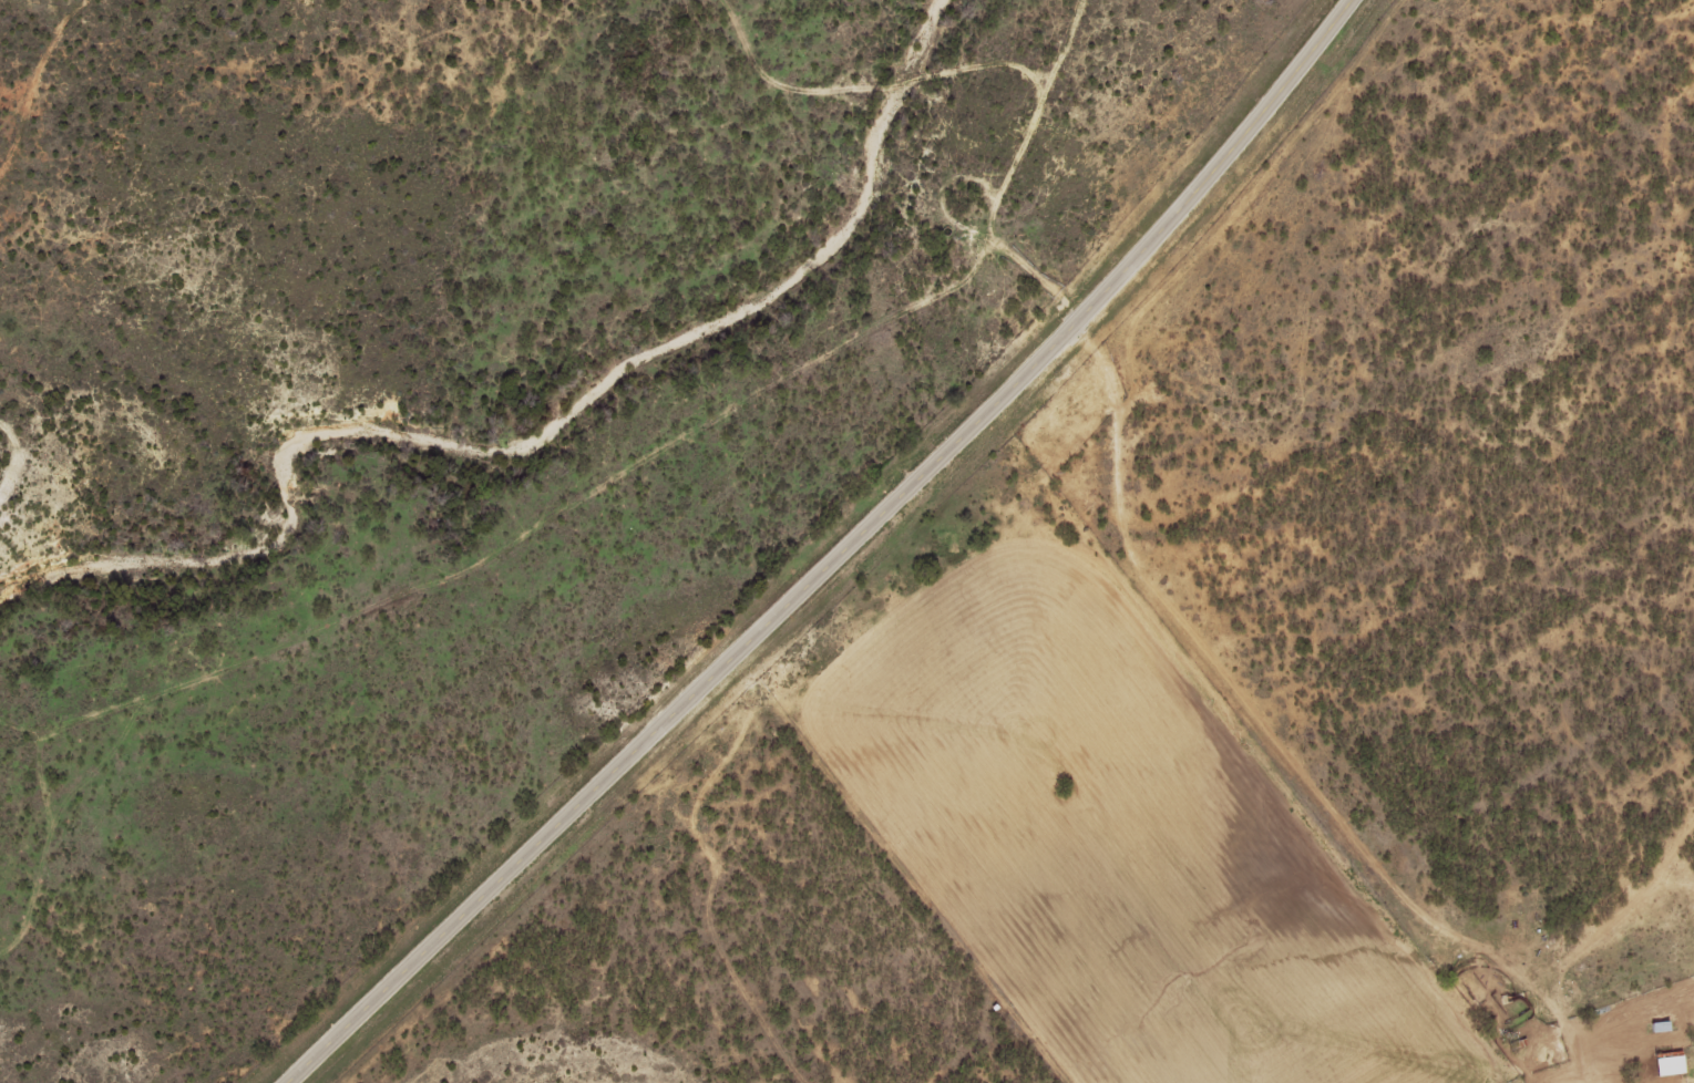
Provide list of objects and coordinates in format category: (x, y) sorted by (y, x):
road: (838, 557)
road: (1263, 725)

